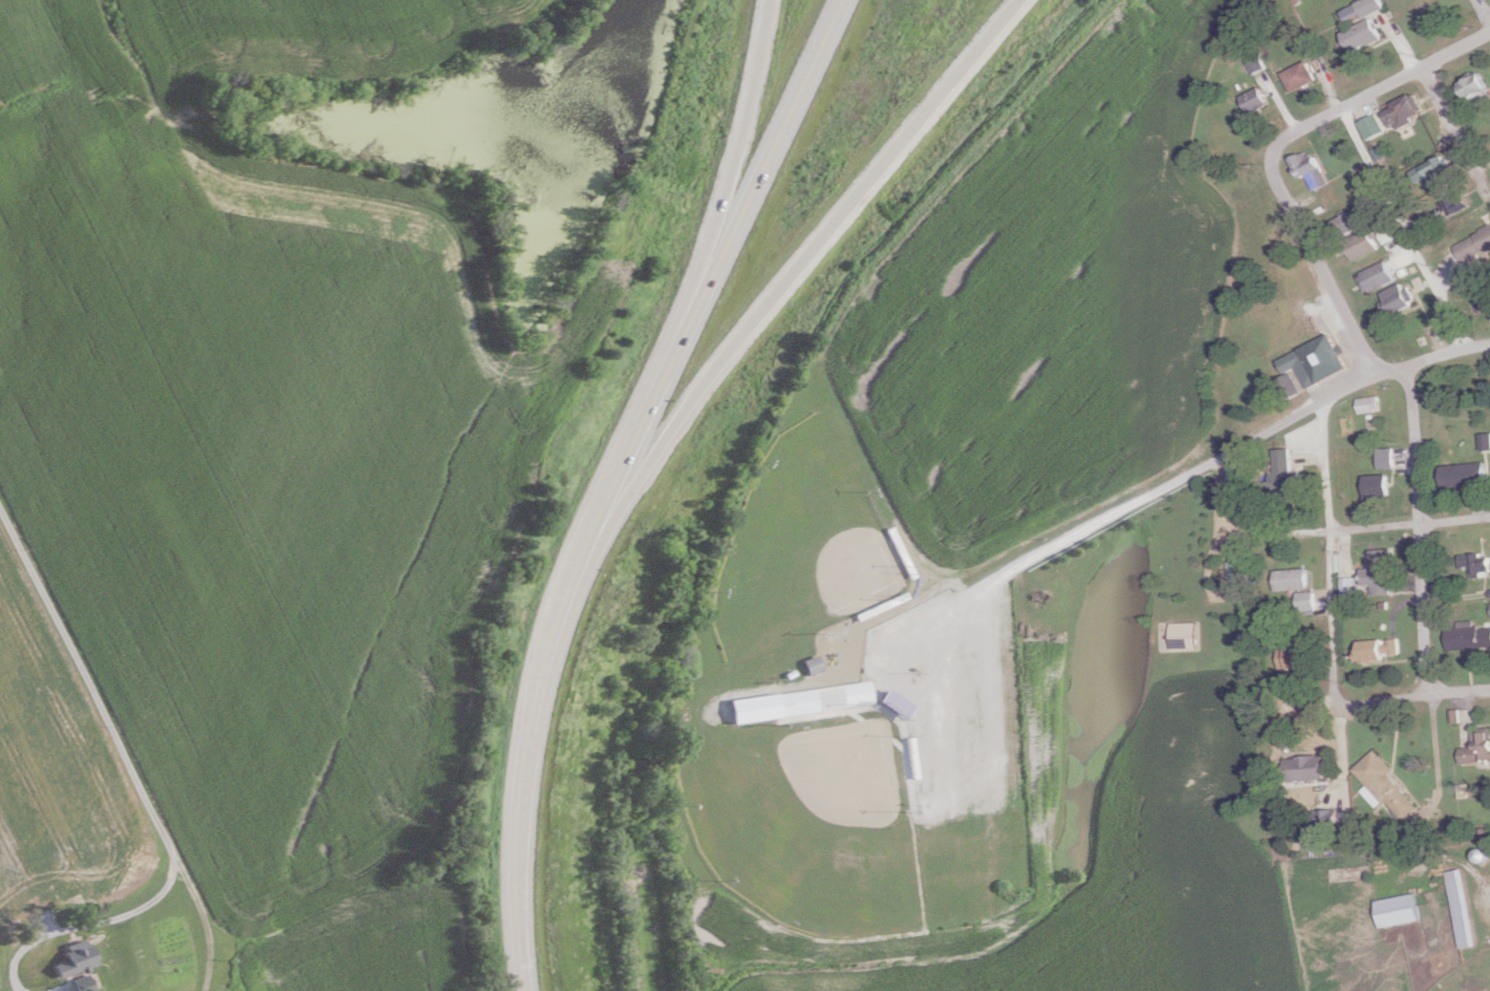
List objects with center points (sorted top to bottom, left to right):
building: (1365, 27)
building: (1254, 65)
building: (1299, 76)
road: (1378, 86)
building: (1475, 89)
building: (1256, 100)
building: (1403, 111)
road: (1447, 117)
building: (1371, 127)
building: (1308, 169)
building: (1430, 173)
road: (758, 187)
road: (728, 188)
building: (1453, 203)
building: (1351, 220)
road: (1399, 228)
building: (1386, 235)
building: (1361, 245)
building: (1473, 251)
road: (1315, 262)
building: (1375, 277)
road: (785, 282)
building: (1393, 299)
building: (1489, 316)
building: (1313, 362)
road: (1401, 367)
building: (1364, 404)
building: (1384, 457)
building: (1283, 473)
building: (1467, 474)
road: (619, 476)
building: (1375, 486)
road: (1158, 487)
road: (1378, 526)
road: (1413, 528)
park: (798, 549)
road: (1325, 549)
building: (906, 552)
building: (1478, 563)
building: (1383, 571)
building: (1290, 578)
building: (1239, 579)
building: (1306, 599)
building: (885, 611)
building: (1471, 636)
building: (1383, 648)
building: (1297, 657)
building: (815, 667)
road: (1412, 690)
building: (828, 696)
building: (900, 705)
road: (939, 722)
park: (847, 735)
road: (996, 738)
road: (114, 741)
road: (1338, 747)
building: (1481, 748)
road: (1434, 752)
parking lot: (969, 756)
building: (915, 757)
building: (1308, 766)
road: (524, 782)
building: (1390, 783)
building: (1333, 817)
park: (805, 835)
building: (1468, 907)
building: (1403, 910)
road: (204, 915)
building: (71, 963)
building: (36, 969)

